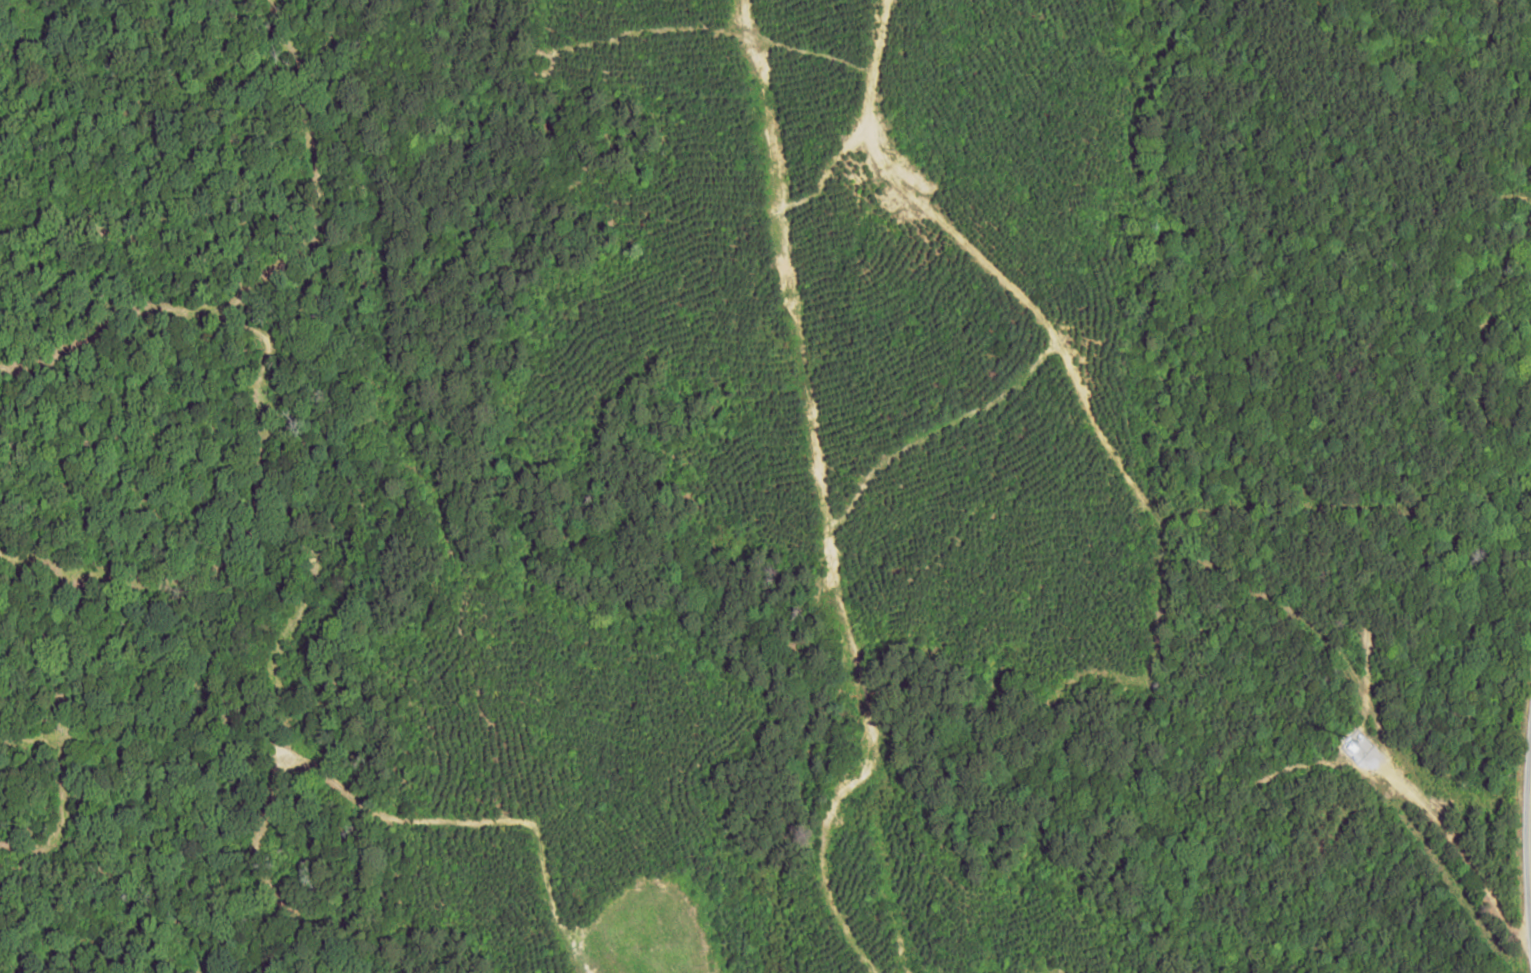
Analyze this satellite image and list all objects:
road: (1513, 852)

